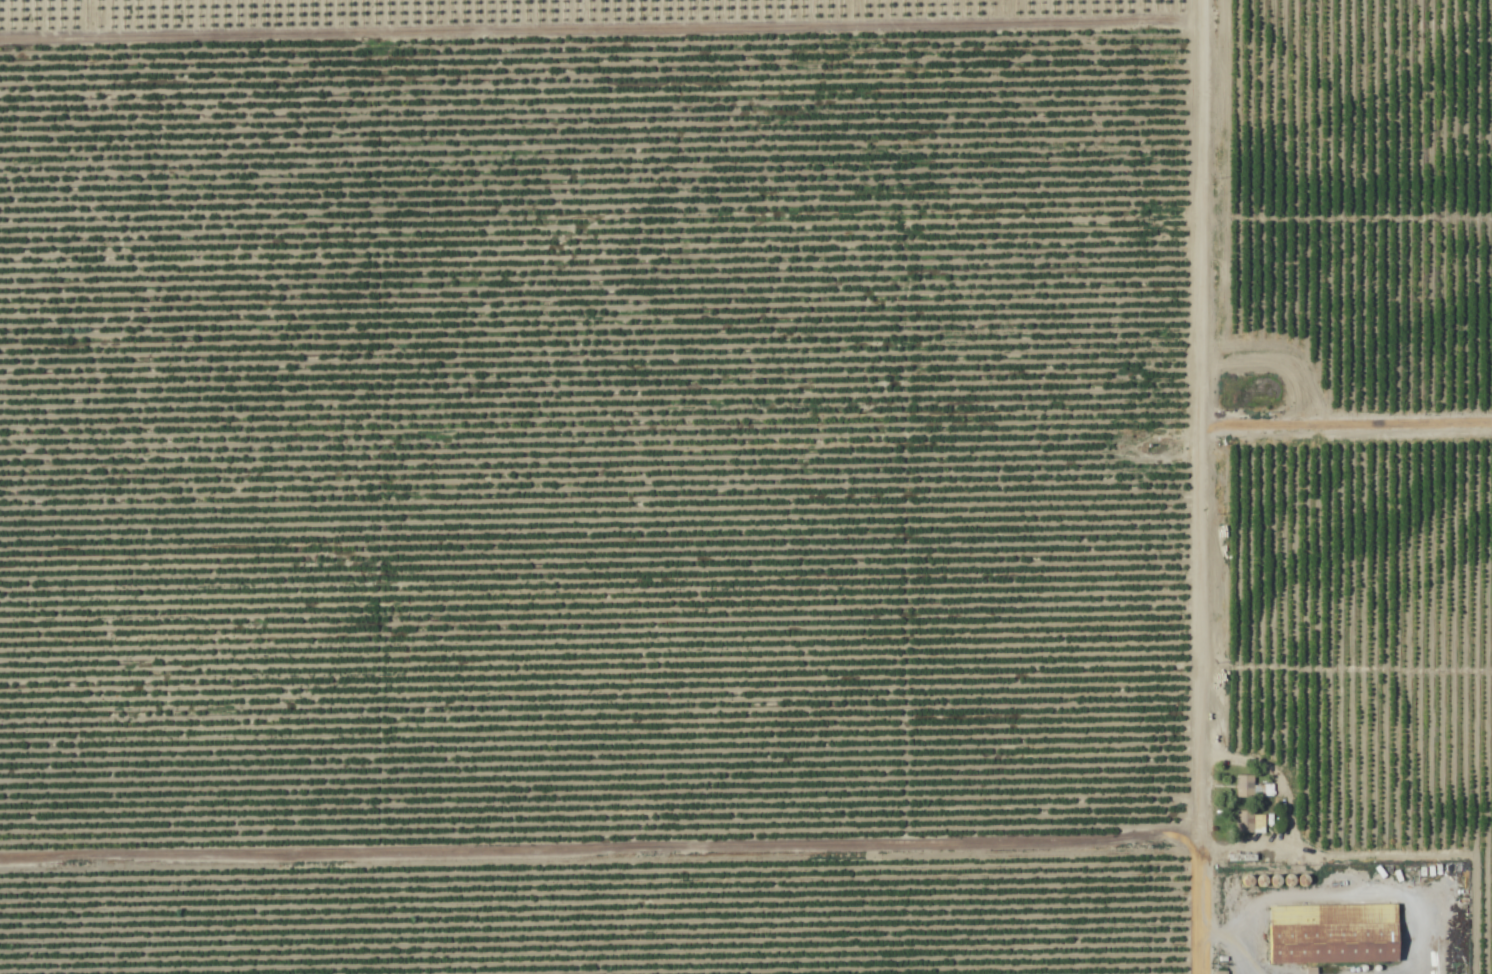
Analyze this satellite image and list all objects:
road: (1209, 487)
building: (1242, 787)
building: (1247, 823)
building: (1331, 934)
building: (1217, 973)

